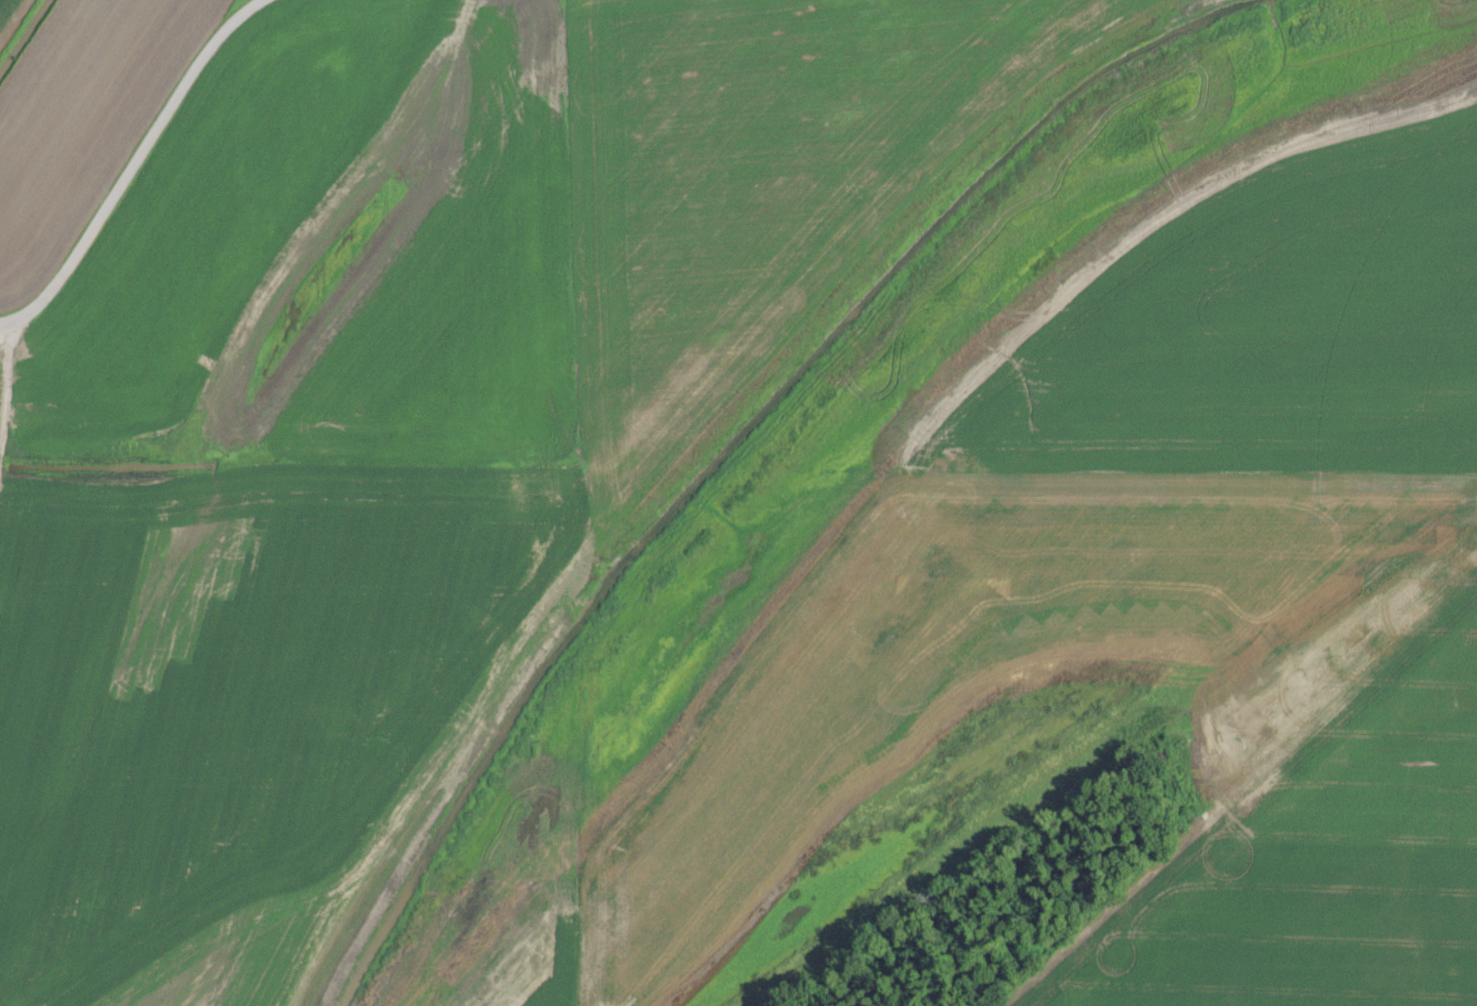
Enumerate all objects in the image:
road: (132, 164)

